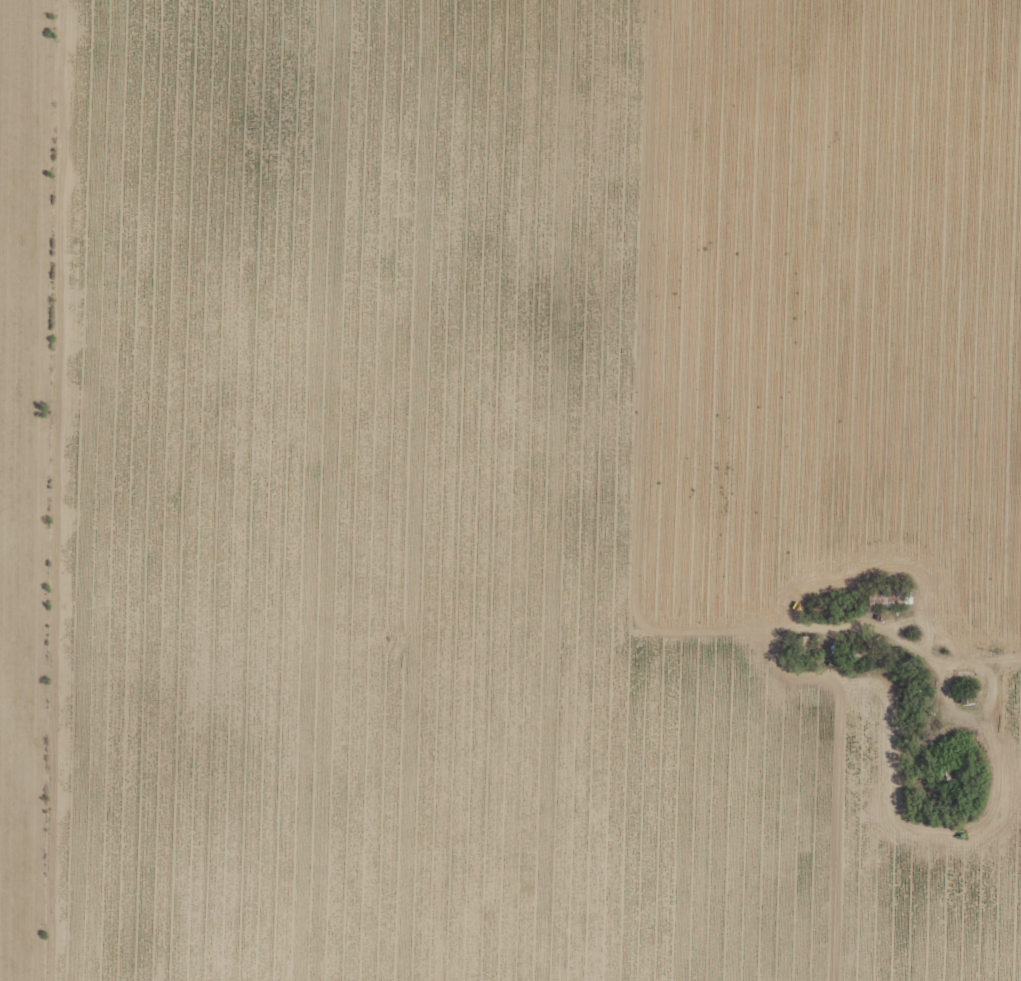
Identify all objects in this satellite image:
road: (633, 581)

